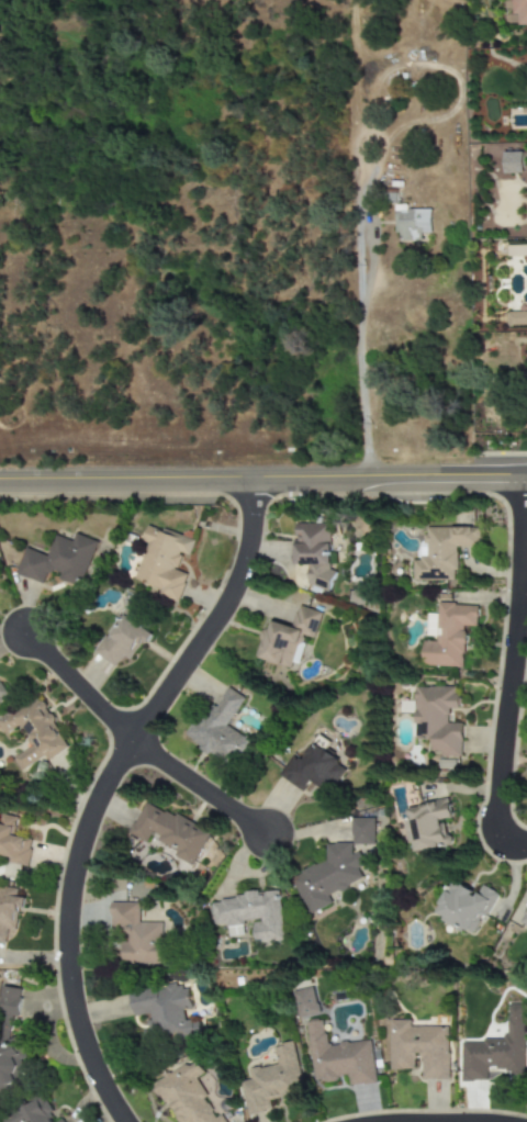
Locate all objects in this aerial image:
building: (519, 11)
building: (512, 162)
building: (411, 223)
building: (517, 250)
building: (517, 318)
road: (358, 325)
road: (263, 478)
building: (441, 551)
building: (313, 552)
building: (57, 560)
building: (161, 561)
building: (447, 635)
building: (287, 637)
building: (122, 639)
road: (506, 669)
road: (72, 684)
building: (2, 692)
building: (437, 719)
building: (221, 727)
building: (33, 732)
building: (312, 770)
road: (104, 789)
road: (200, 789)
building: (426, 824)
building: (362, 831)
building: (169, 832)
building: (12, 842)
building: (326, 877)
building: (463, 906)
building: (9, 910)
building: (250, 916)
building: (524, 919)
building: (137, 935)
building: (304, 1002)
building: (162, 1011)
building: (10, 1043)
building: (418, 1048)
building: (495, 1050)
building: (338, 1057)
building: (272, 1080)
building: (184, 1098)
building: (30, 1113)
building: (59, 1121)

